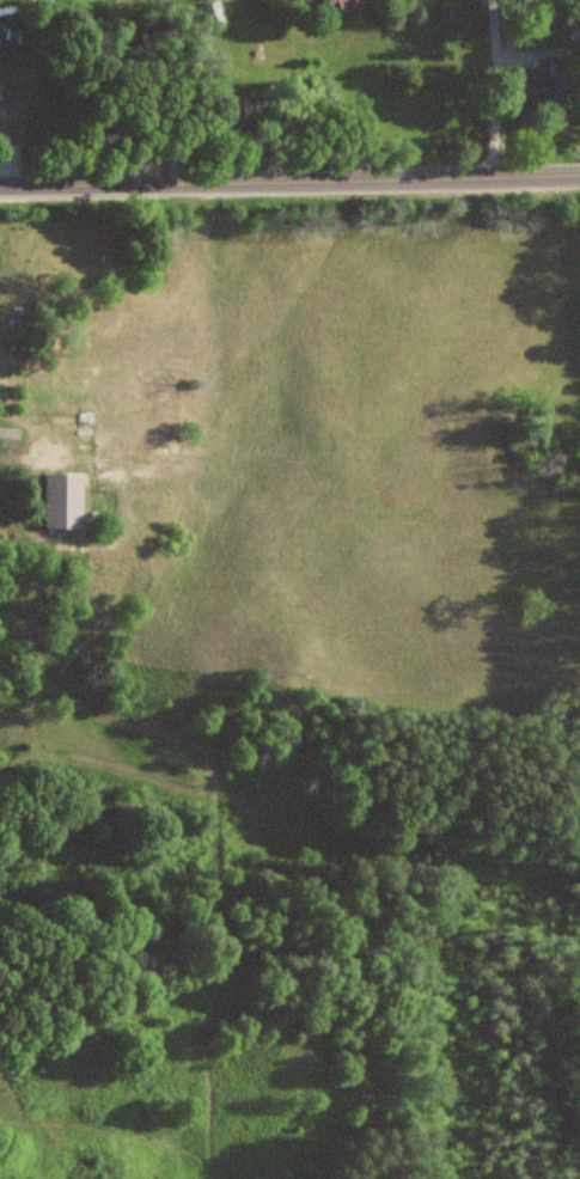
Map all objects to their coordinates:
building: (346, 5)
building: (543, 84)
building: (13, 112)
road: (289, 178)
building: (68, 499)

